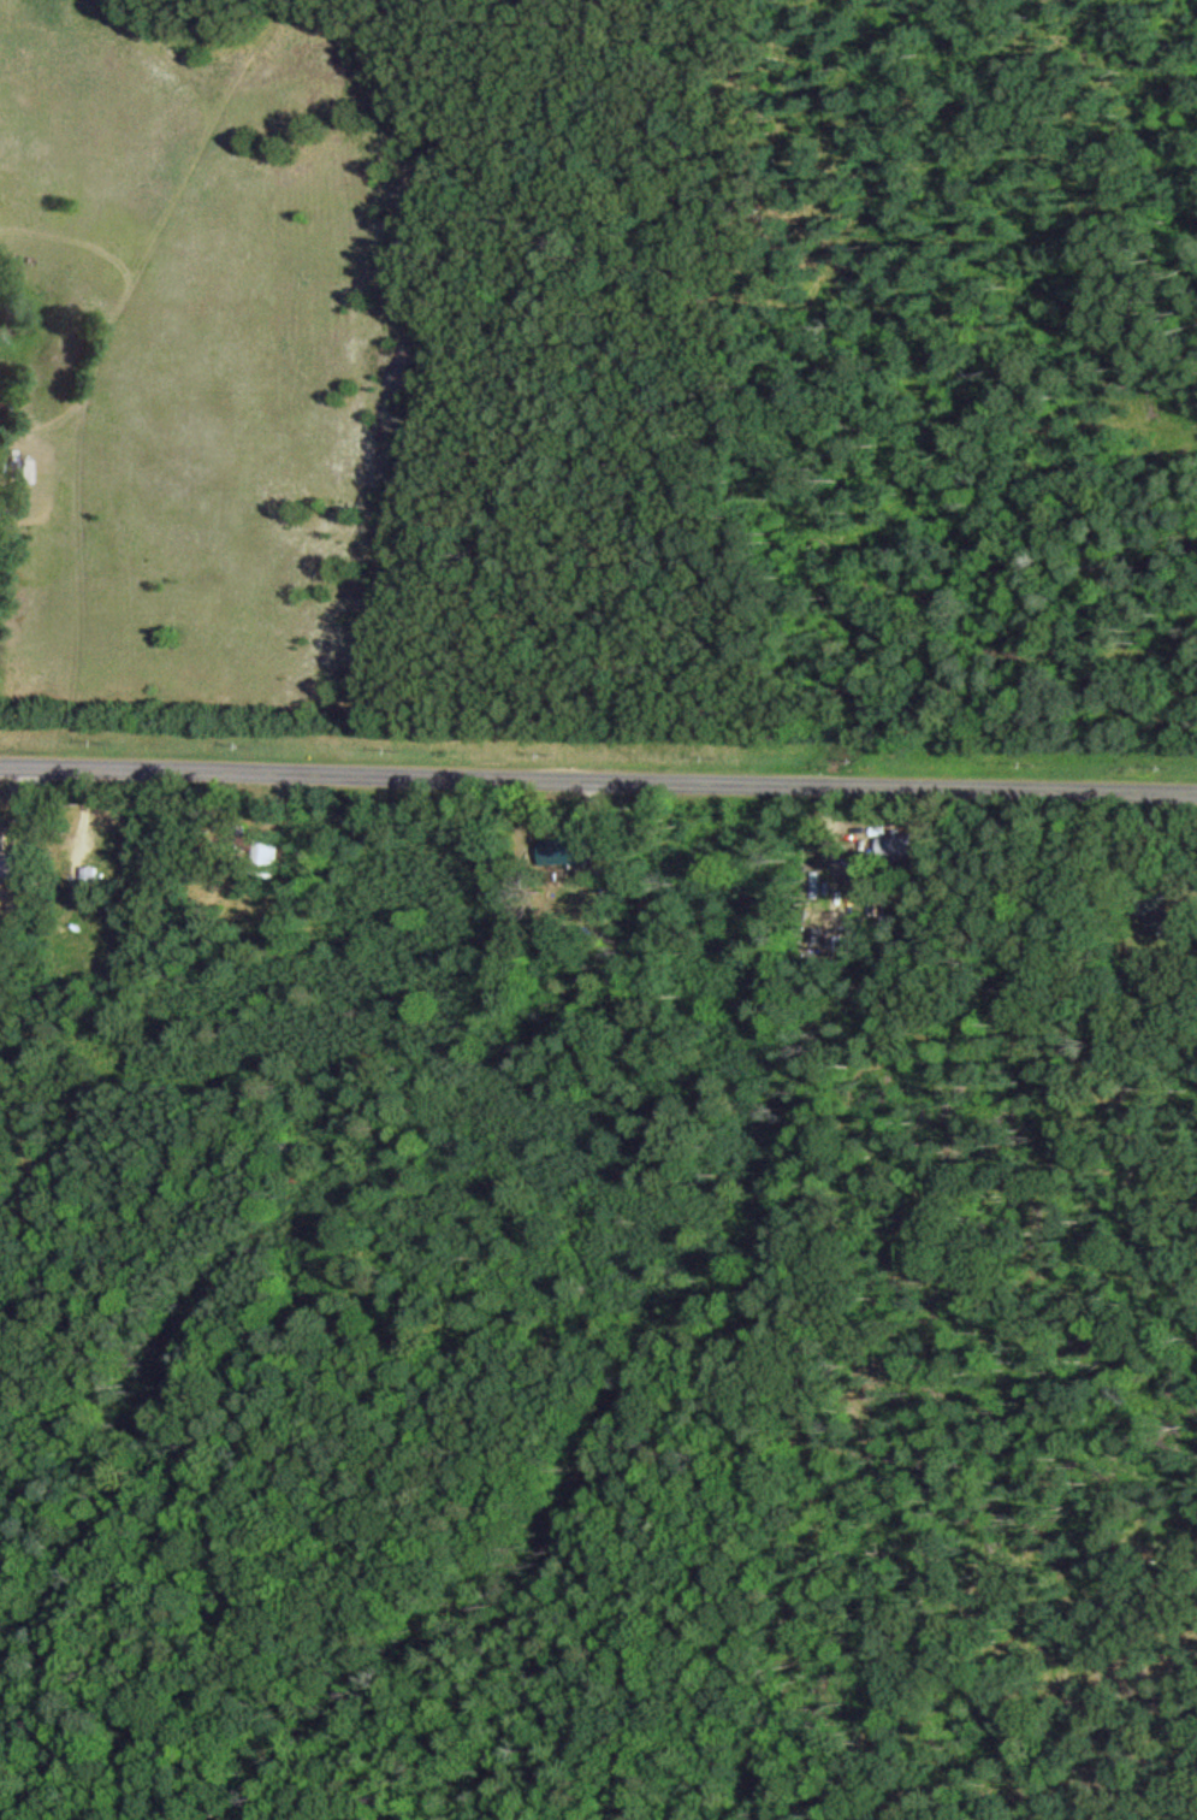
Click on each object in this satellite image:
road: (598, 775)
building: (5, 840)
building: (908, 841)
building: (268, 856)
building: (95, 875)
building: (1162, 910)

